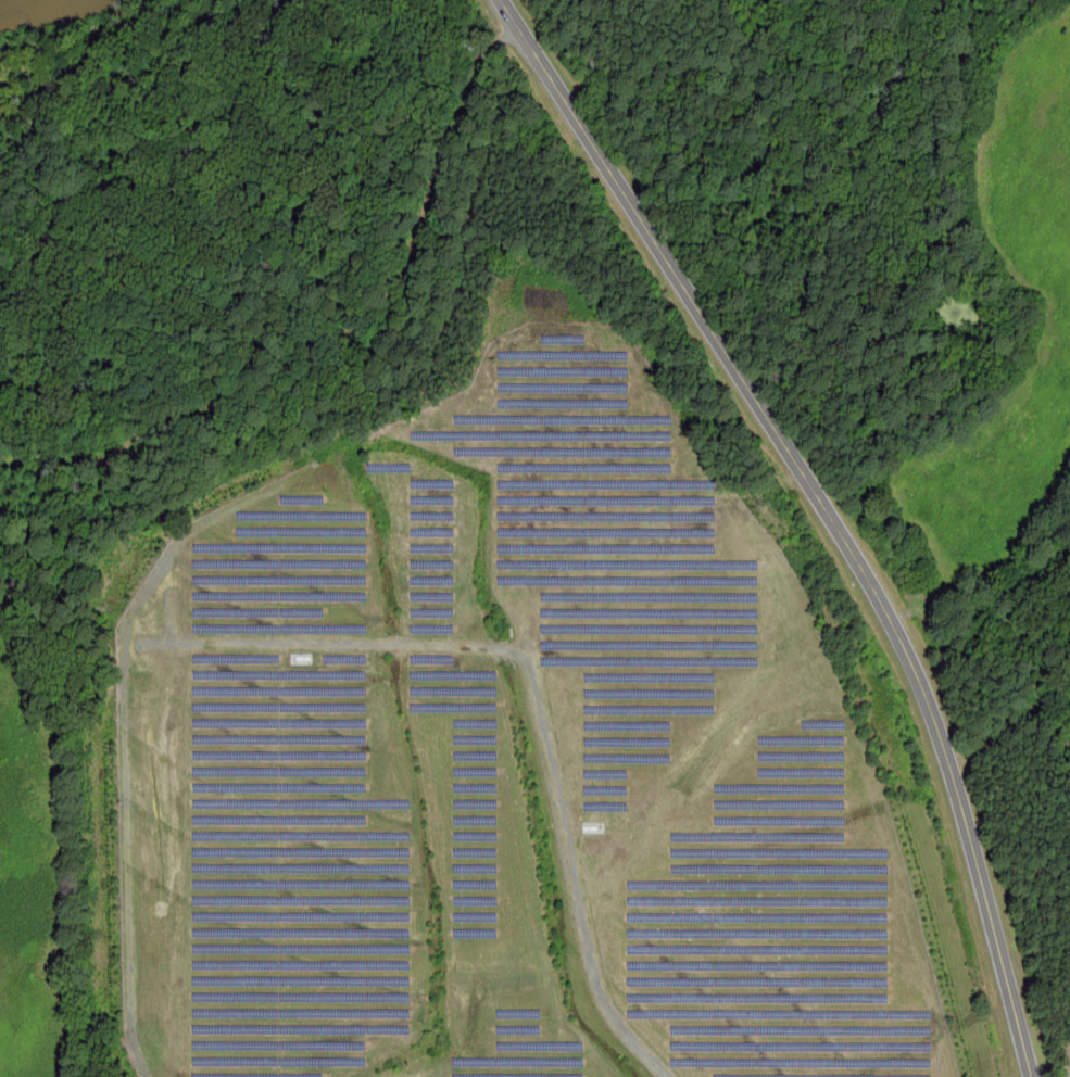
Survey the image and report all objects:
road: (512, 14)
road: (503, 40)
parking lot: (489, 42)
road: (791, 48)
road: (541, 62)
road: (369, 313)
road: (58, 461)
road: (66, 508)
road: (858, 559)
road: (173, 616)
road: (534, 681)
road: (126, 743)
solar farm: (505, 765)

